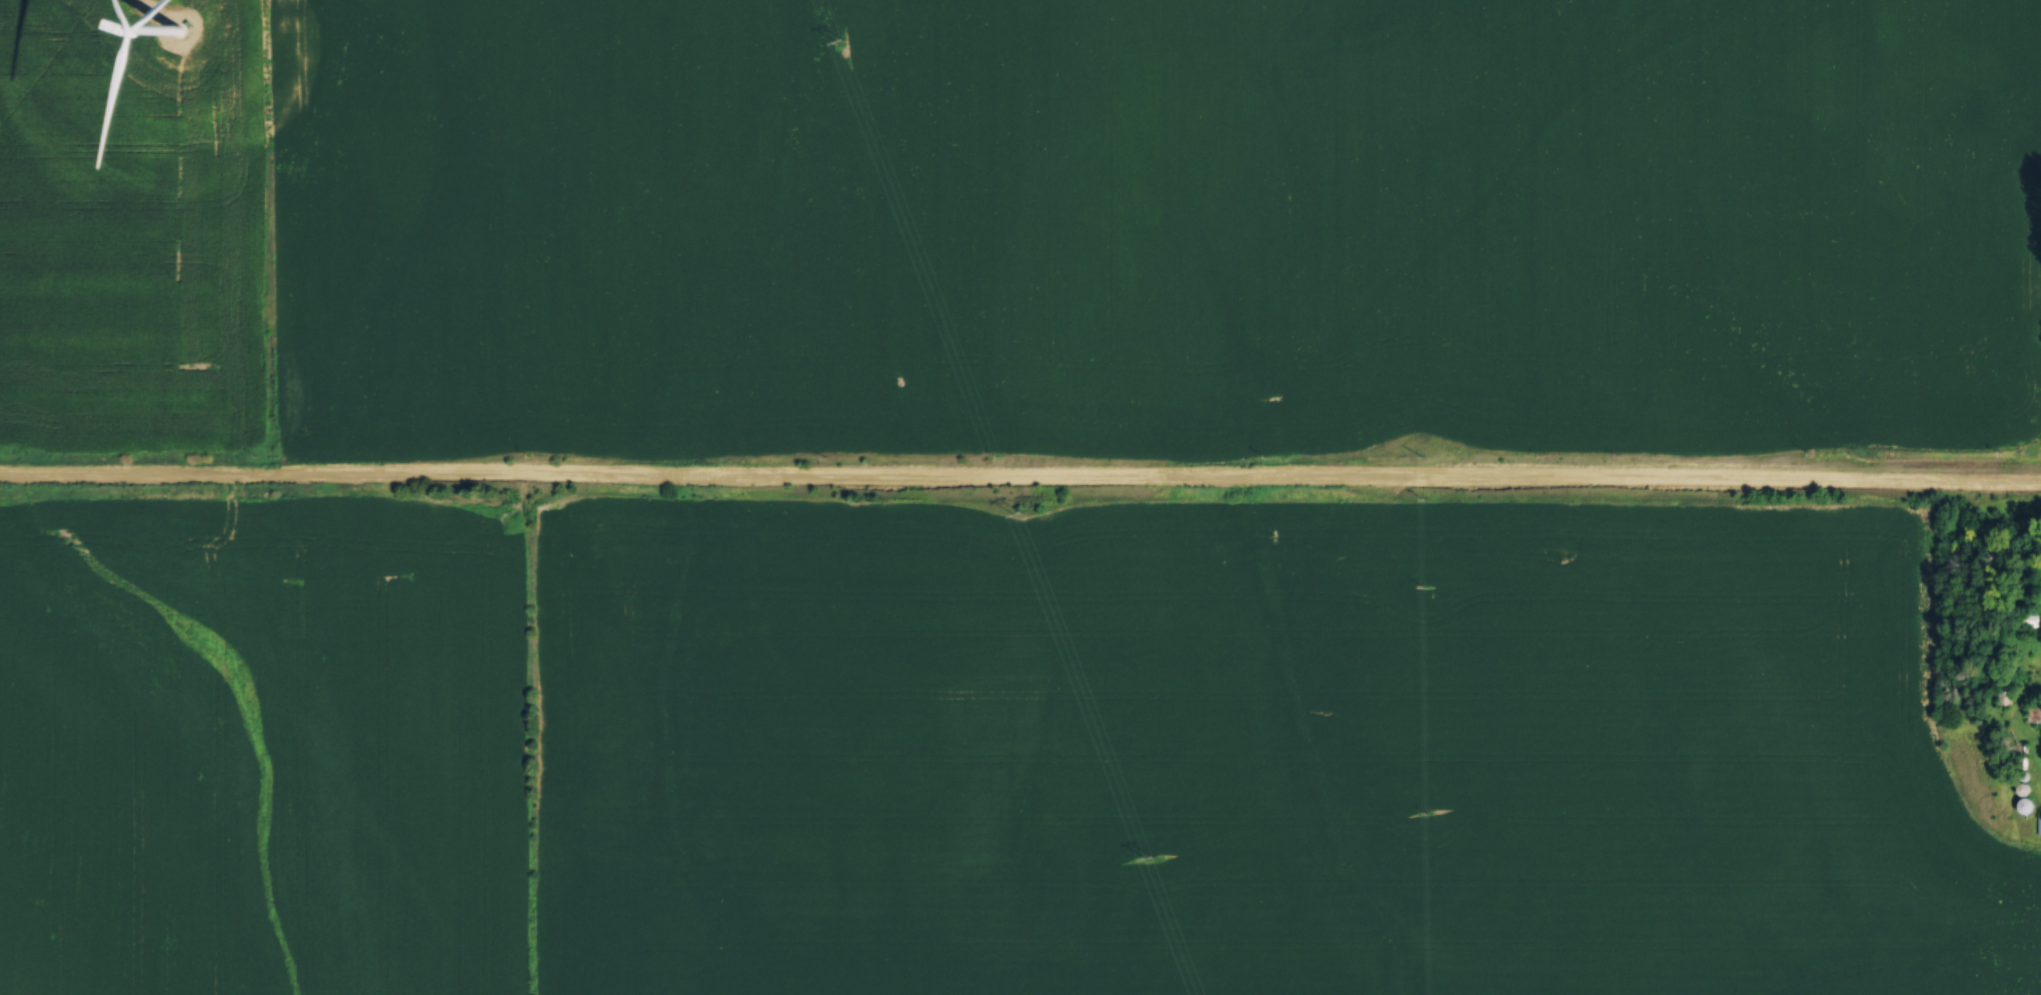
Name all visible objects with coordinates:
wind turbine: (180, 30)
power tower: (842, 42)
road: (1020, 482)
power tower: (1023, 512)
building: (2032, 617)
building: (2007, 690)
building: (2035, 711)
building: (2028, 787)
building: (2027, 803)
building: (2039, 824)
power tower: (1154, 858)

